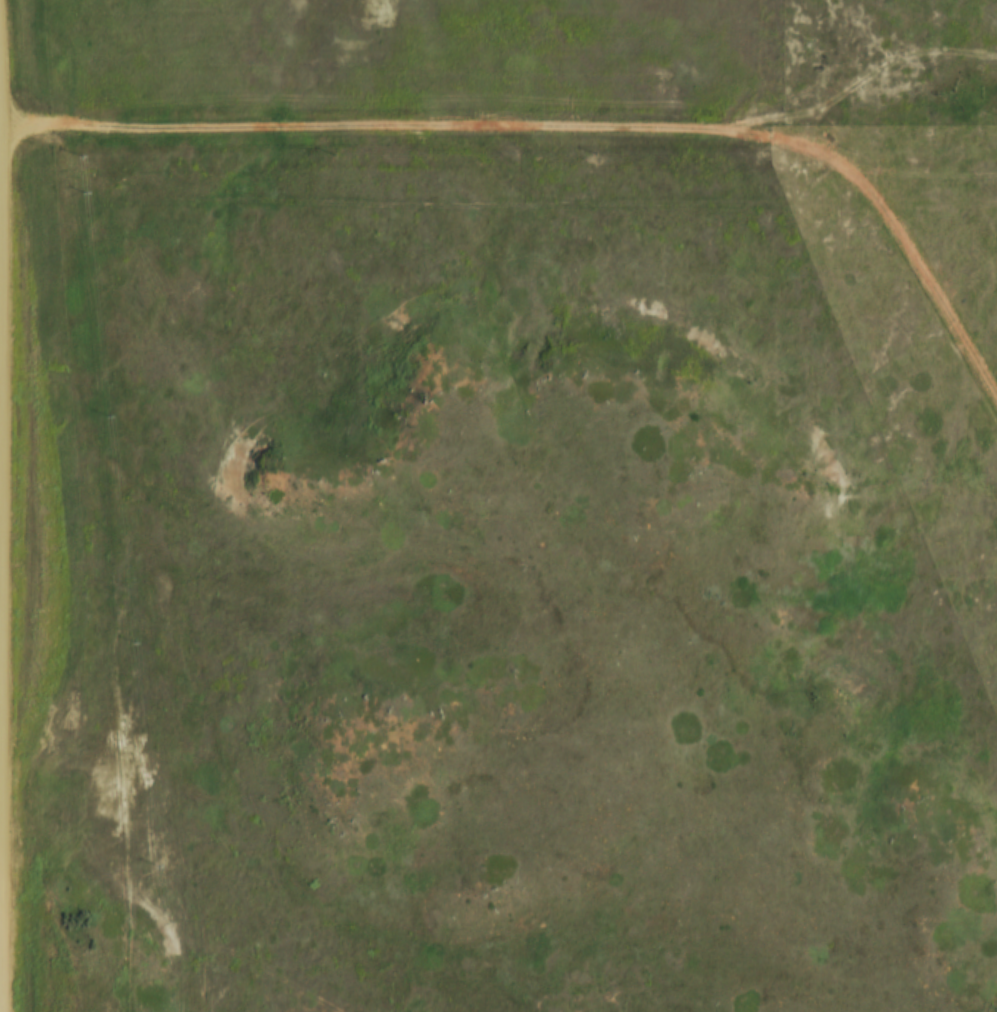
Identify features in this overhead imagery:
road: (501, 128)
road: (929, 288)
road: (0, 632)
road: (1, 999)

